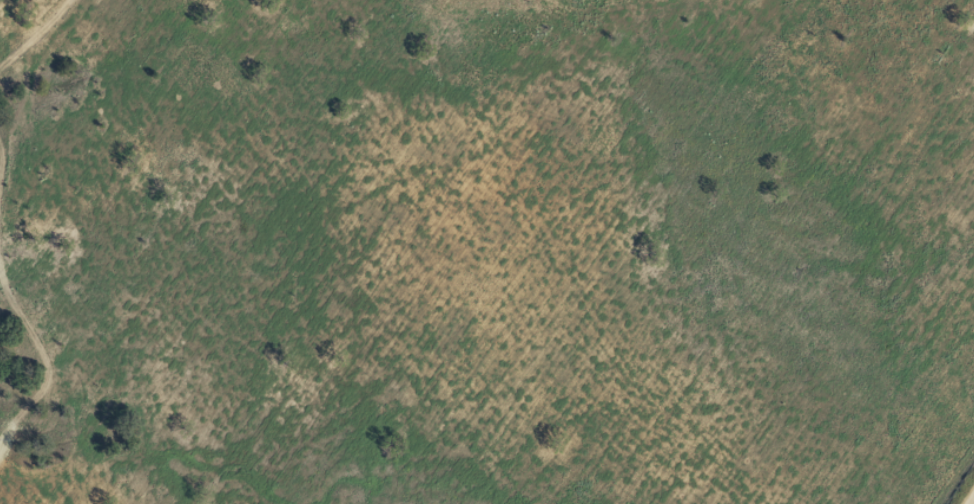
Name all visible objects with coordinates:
road: (969, 498)

